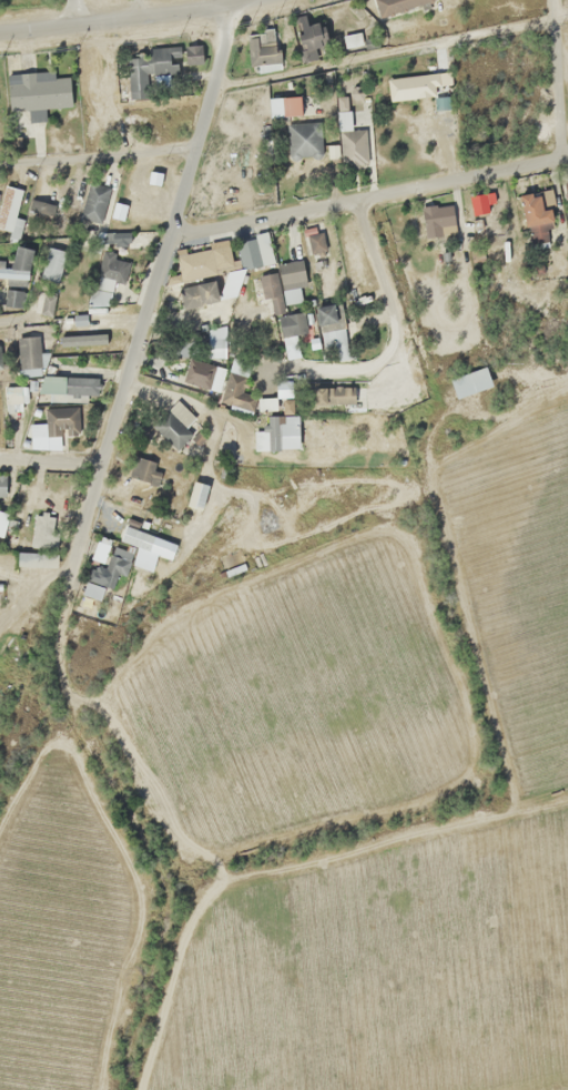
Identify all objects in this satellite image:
building: (396, 4)
road: (68, 12)
road: (122, 19)
building: (311, 36)
road: (221, 46)
road: (387, 50)
building: (262, 53)
building: (193, 54)
building: (149, 68)
road: (556, 78)
building: (37, 92)
building: (284, 107)
road: (201, 117)
building: (303, 140)
building: (353, 147)
road: (97, 155)
building: (567, 188)
road: (181, 192)
road: (367, 196)
building: (93, 202)
building: (9, 208)
building: (535, 218)
building: (436, 220)
building: (253, 252)
building: (200, 262)
building: (16, 264)
building: (51, 264)
building: (106, 280)
building: (282, 284)
building: (197, 293)
building: (12, 297)
building: (44, 305)
road: (1, 321)
road: (394, 326)
building: (331, 330)
building: (291, 332)
building: (28, 354)
building: (206, 365)
building: (237, 366)
building: (469, 381)
building: (68, 386)
building: (332, 395)
road: (116, 402)
building: (60, 421)
building: (171, 430)
building: (287, 431)
road: (49, 462)
building: (139, 468)
building: (1, 486)
building: (2, 522)
building: (136, 537)
building: (99, 552)
road: (140, 825)
road: (133, 1040)

